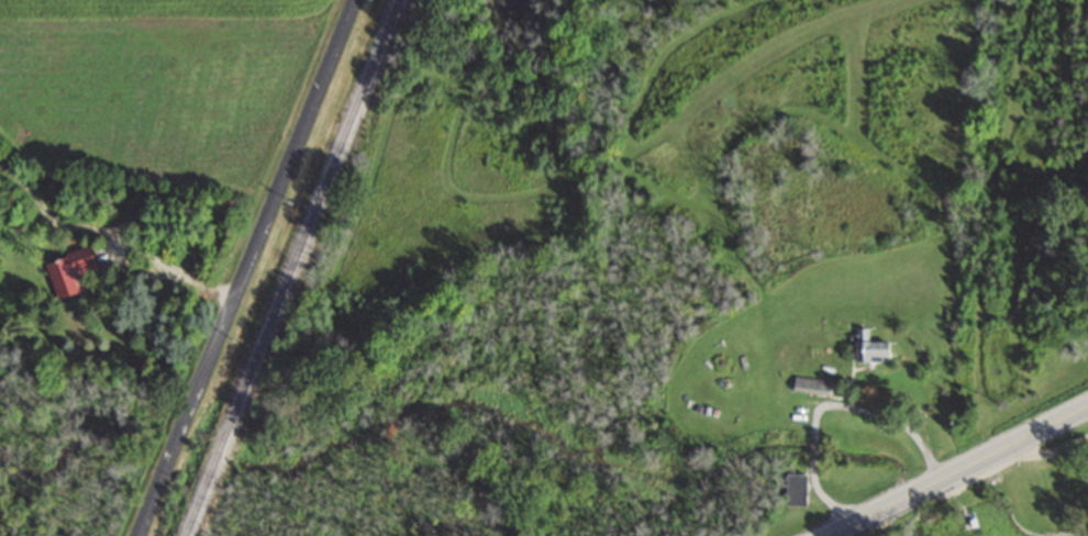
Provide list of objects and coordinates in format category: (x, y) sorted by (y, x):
road: (142, 249)
railway: (291, 267)
road: (244, 268)
building: (67, 271)
building: (866, 348)
road: (956, 470)
building: (791, 488)

